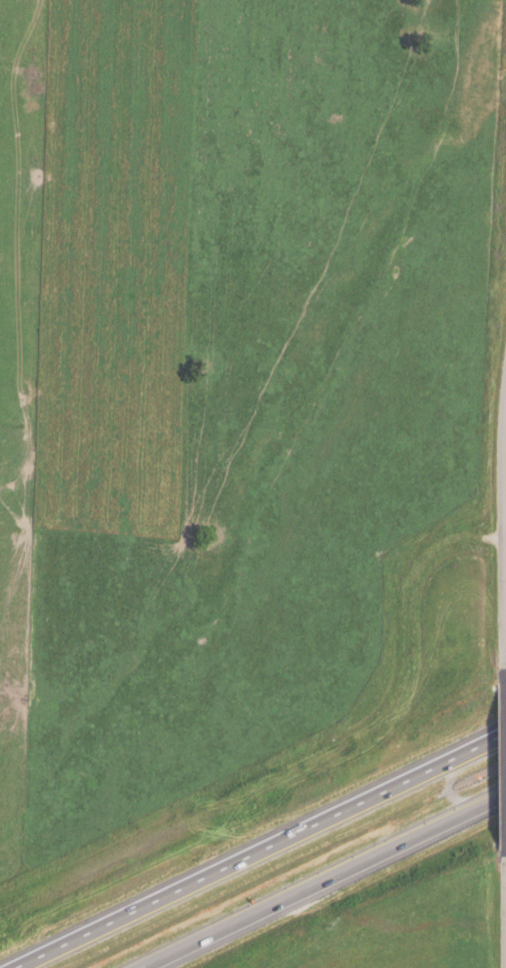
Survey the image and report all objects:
road: (504, 624)
road: (503, 764)
road: (261, 849)
road: (322, 879)
road: (503, 912)

